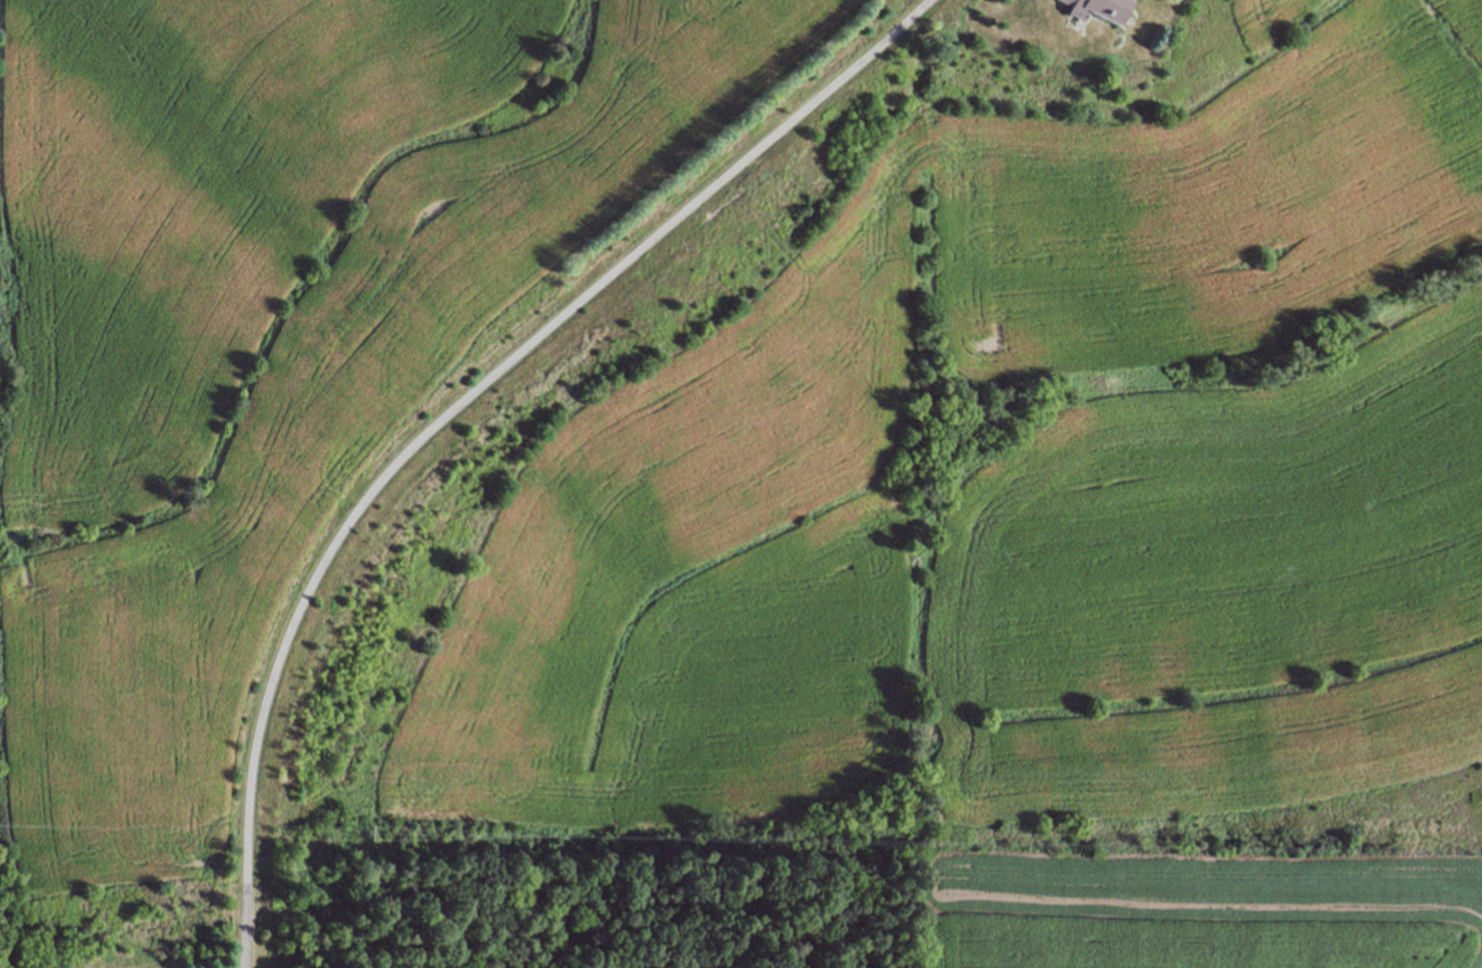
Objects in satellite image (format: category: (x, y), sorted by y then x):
building: (1095, 8)
road: (458, 410)

